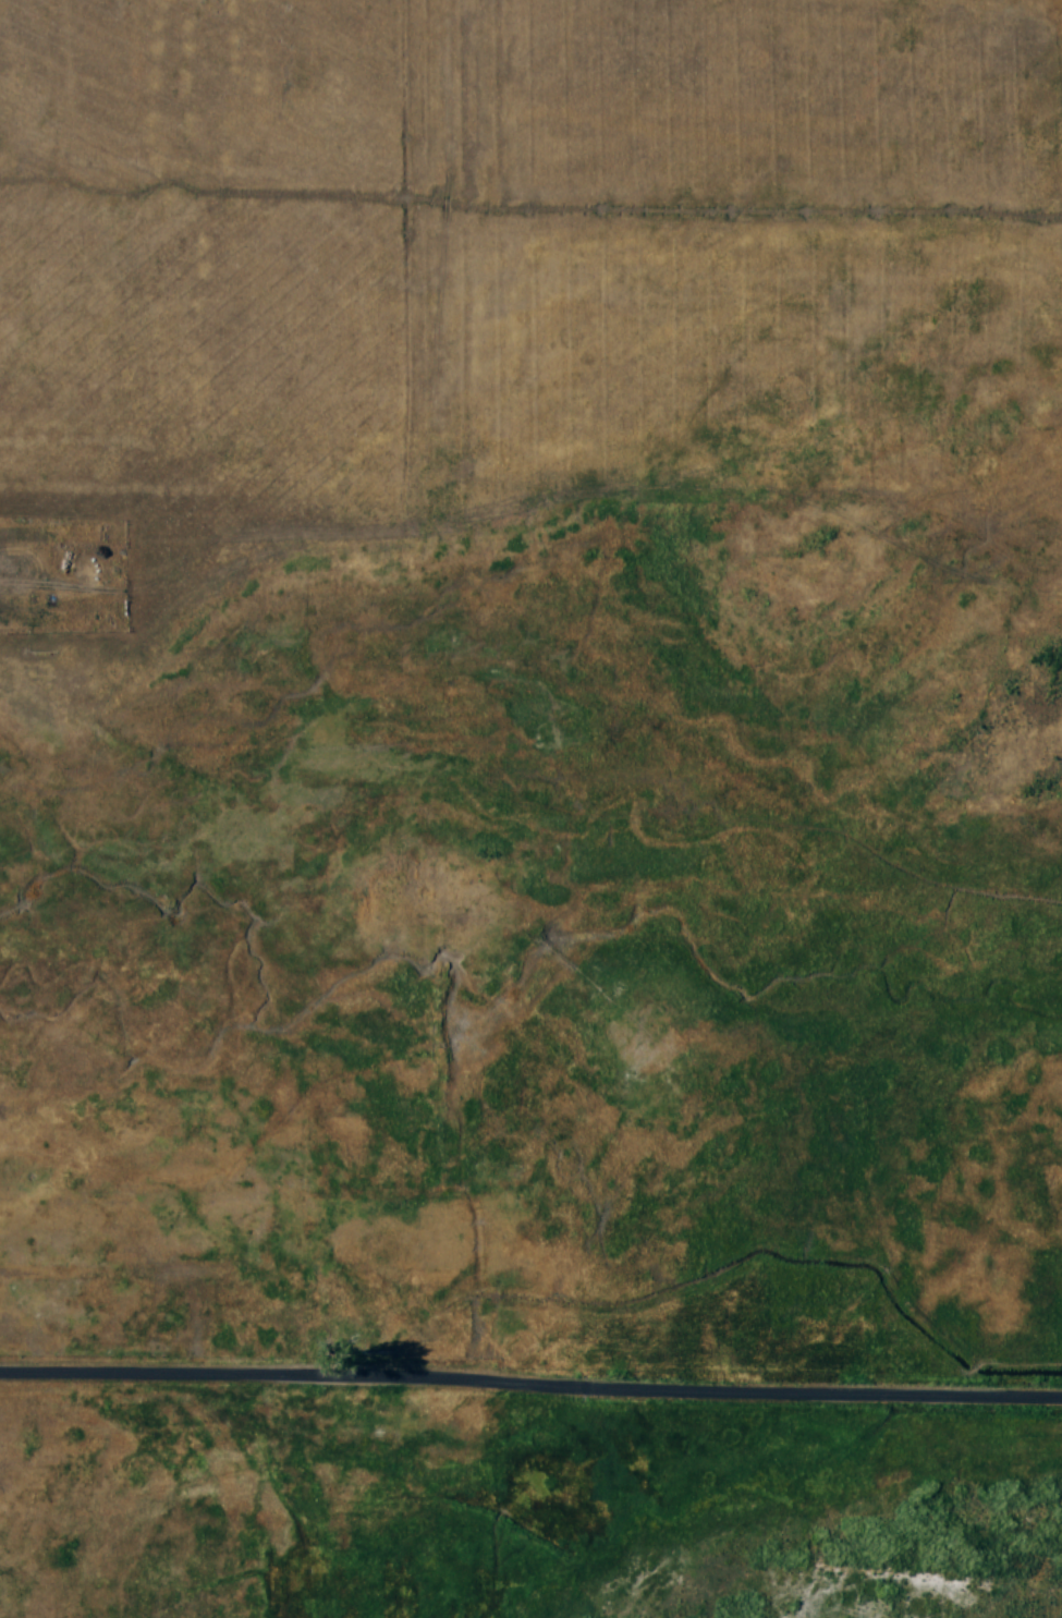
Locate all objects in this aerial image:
road: (530, 1382)

